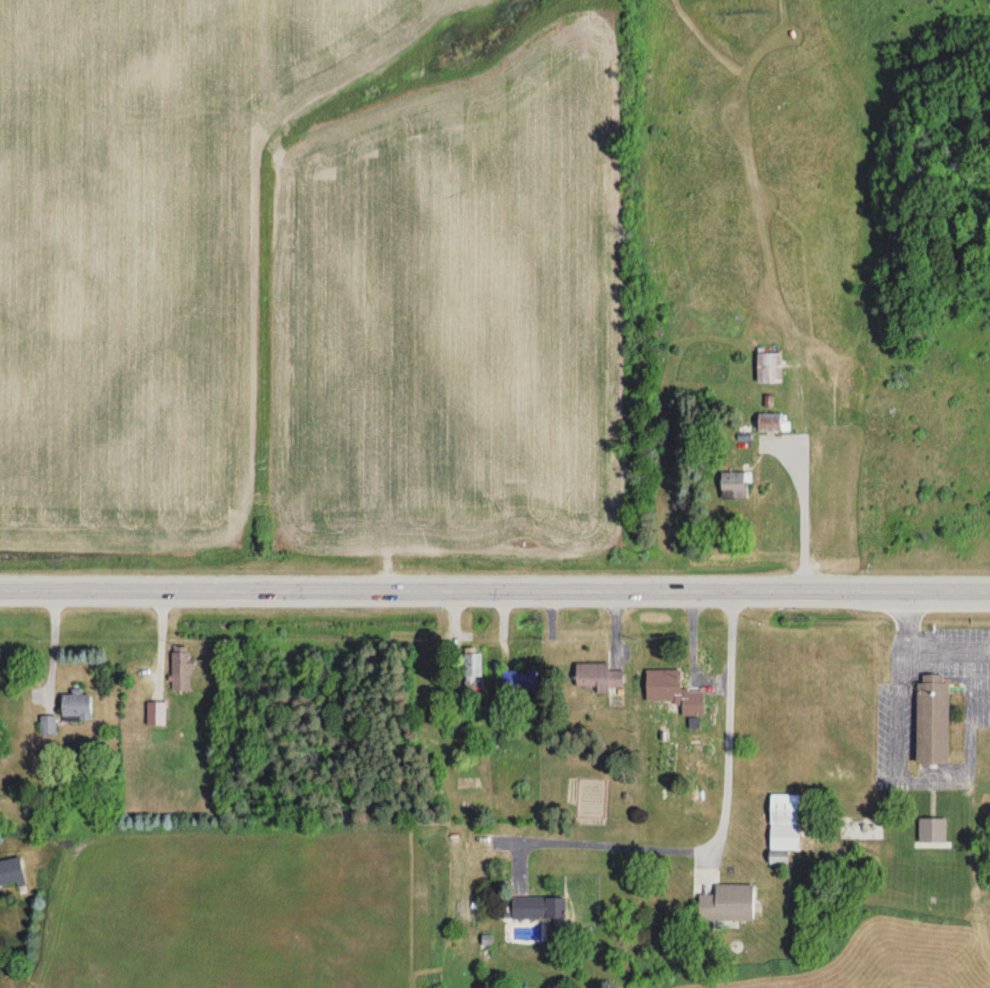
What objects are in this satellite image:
building: (769, 368)
building: (771, 422)
building: (735, 484)
road: (495, 587)
road: (902, 614)
road: (946, 642)
parking lot: (962, 656)
building: (181, 668)
building: (474, 669)
building: (598, 678)
building: (672, 691)
building: (76, 705)
building: (931, 708)
building: (156, 713)
parking lot: (893, 714)
building: (48, 725)
road: (913, 773)
road: (722, 819)
building: (783, 826)
building: (932, 829)
building: (11, 871)
building: (727, 903)
building: (540, 908)

